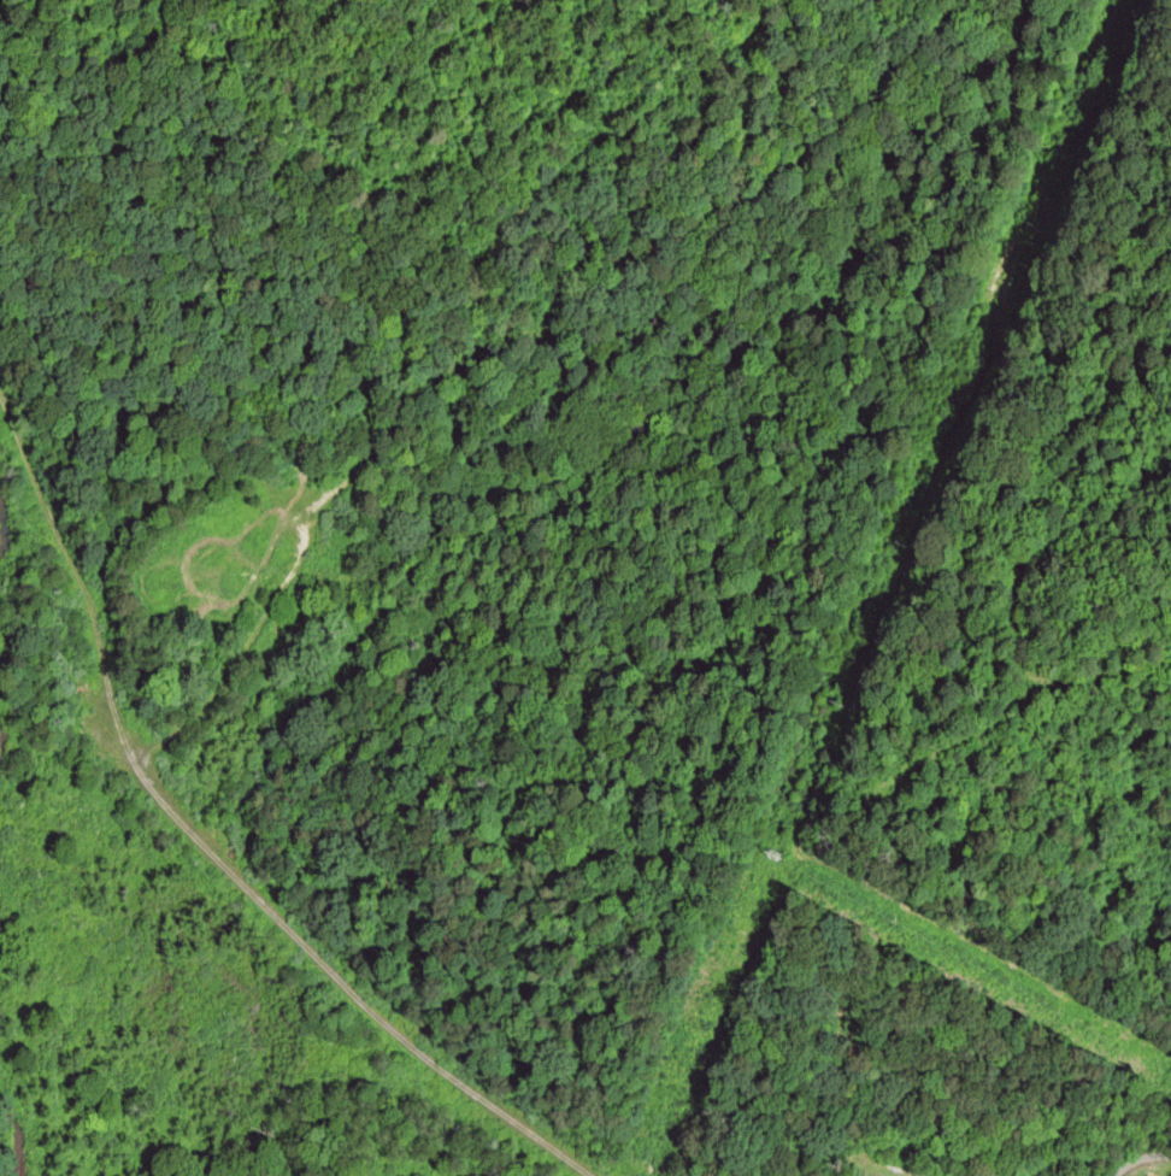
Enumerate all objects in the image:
road: (25, 461)
road: (255, 898)
road: (1137, 1154)

